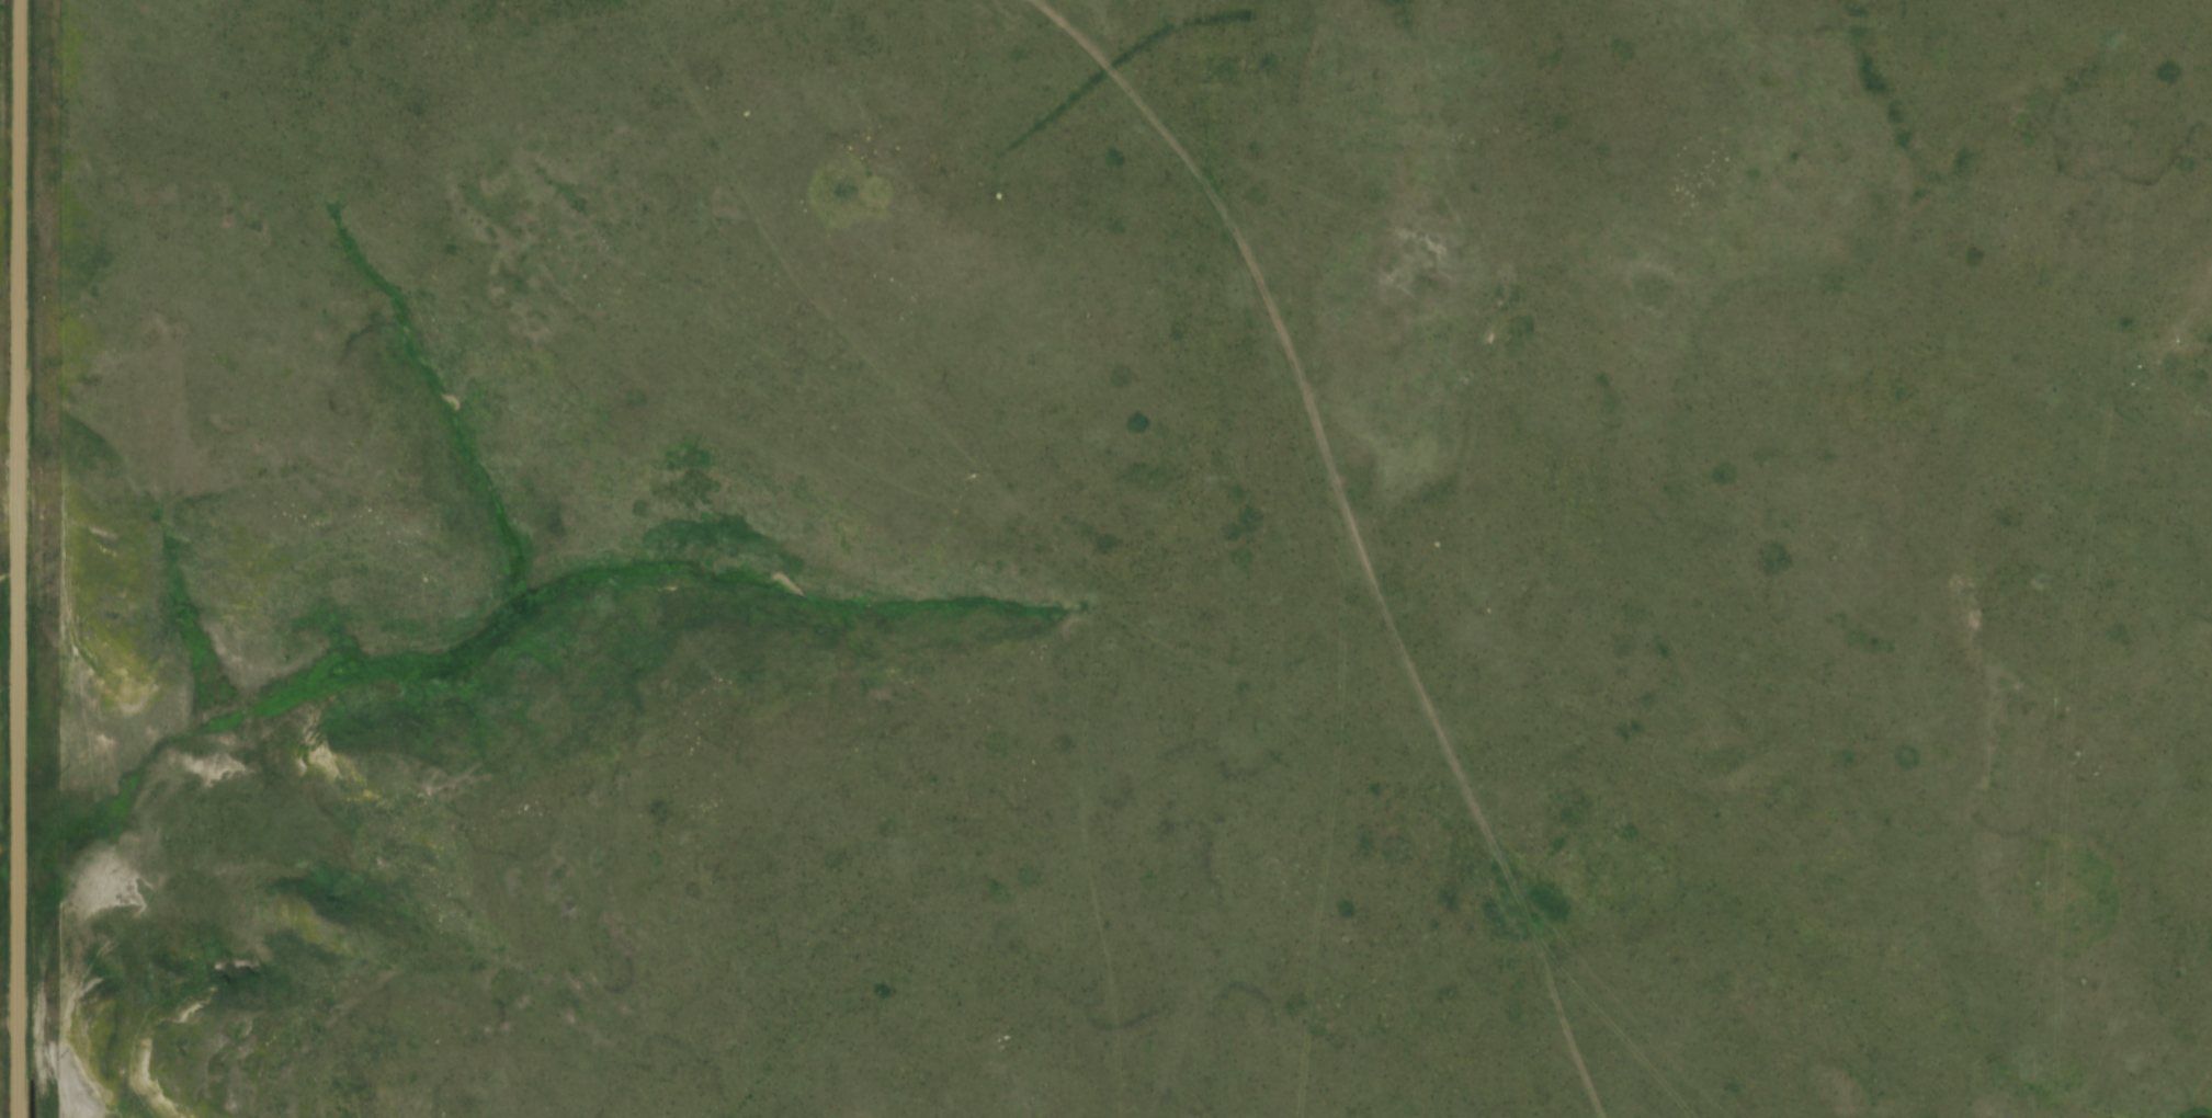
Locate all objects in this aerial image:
road: (24, 559)

